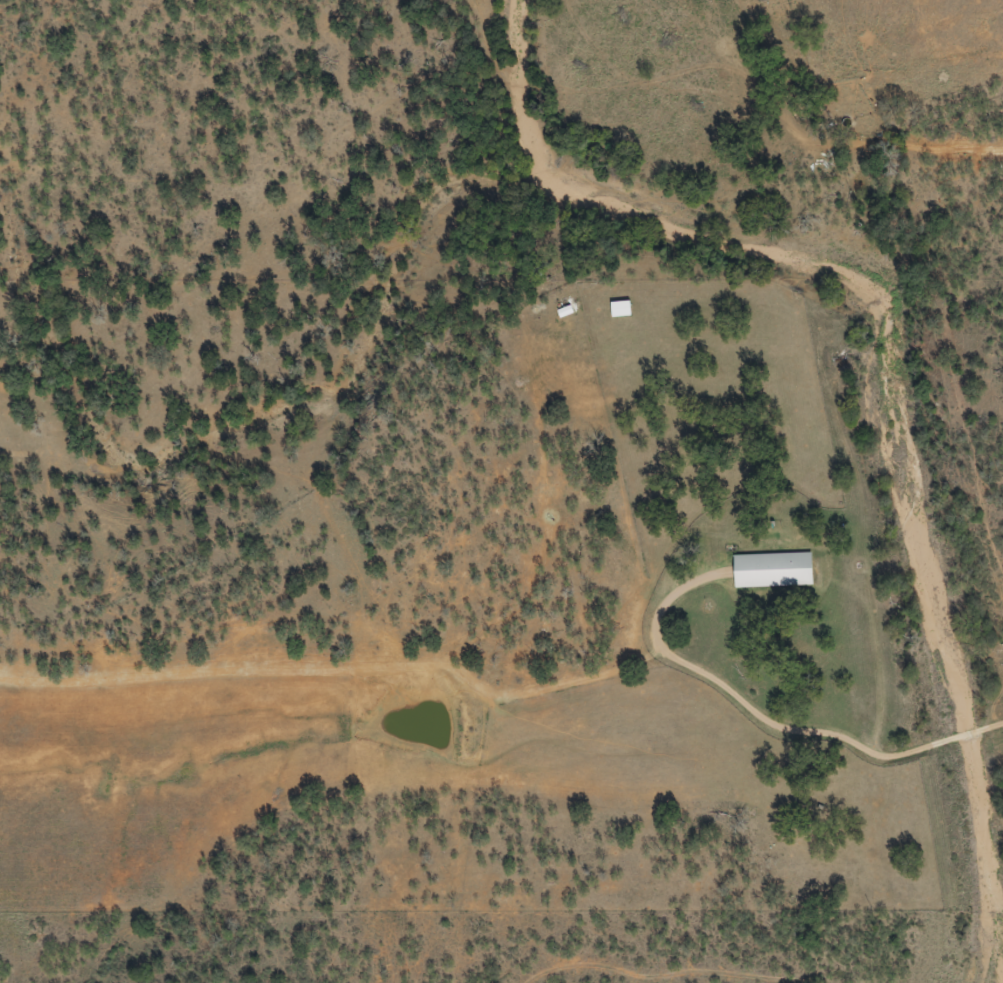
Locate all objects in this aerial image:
building: (774, 571)

